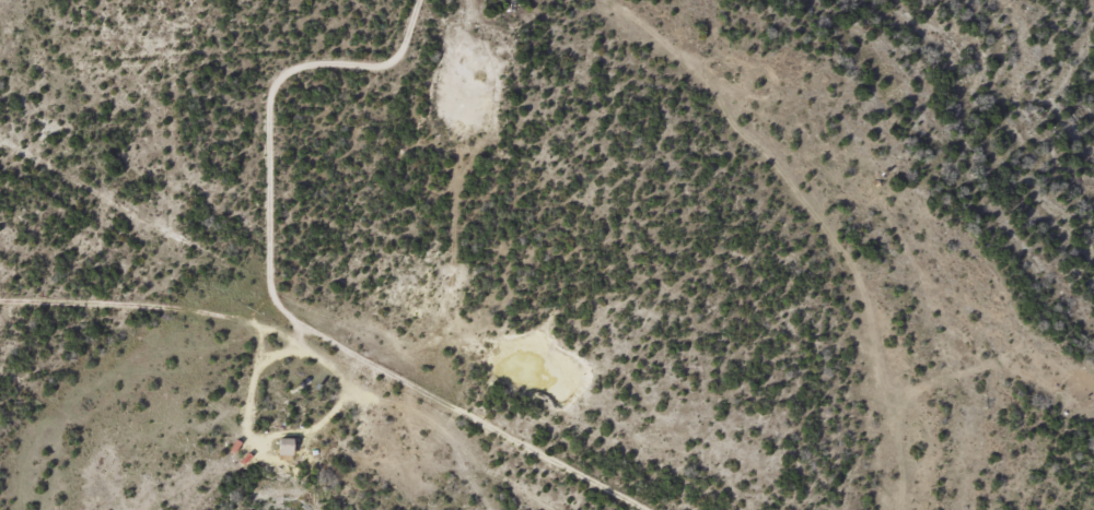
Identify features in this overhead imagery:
road: (317, 341)

